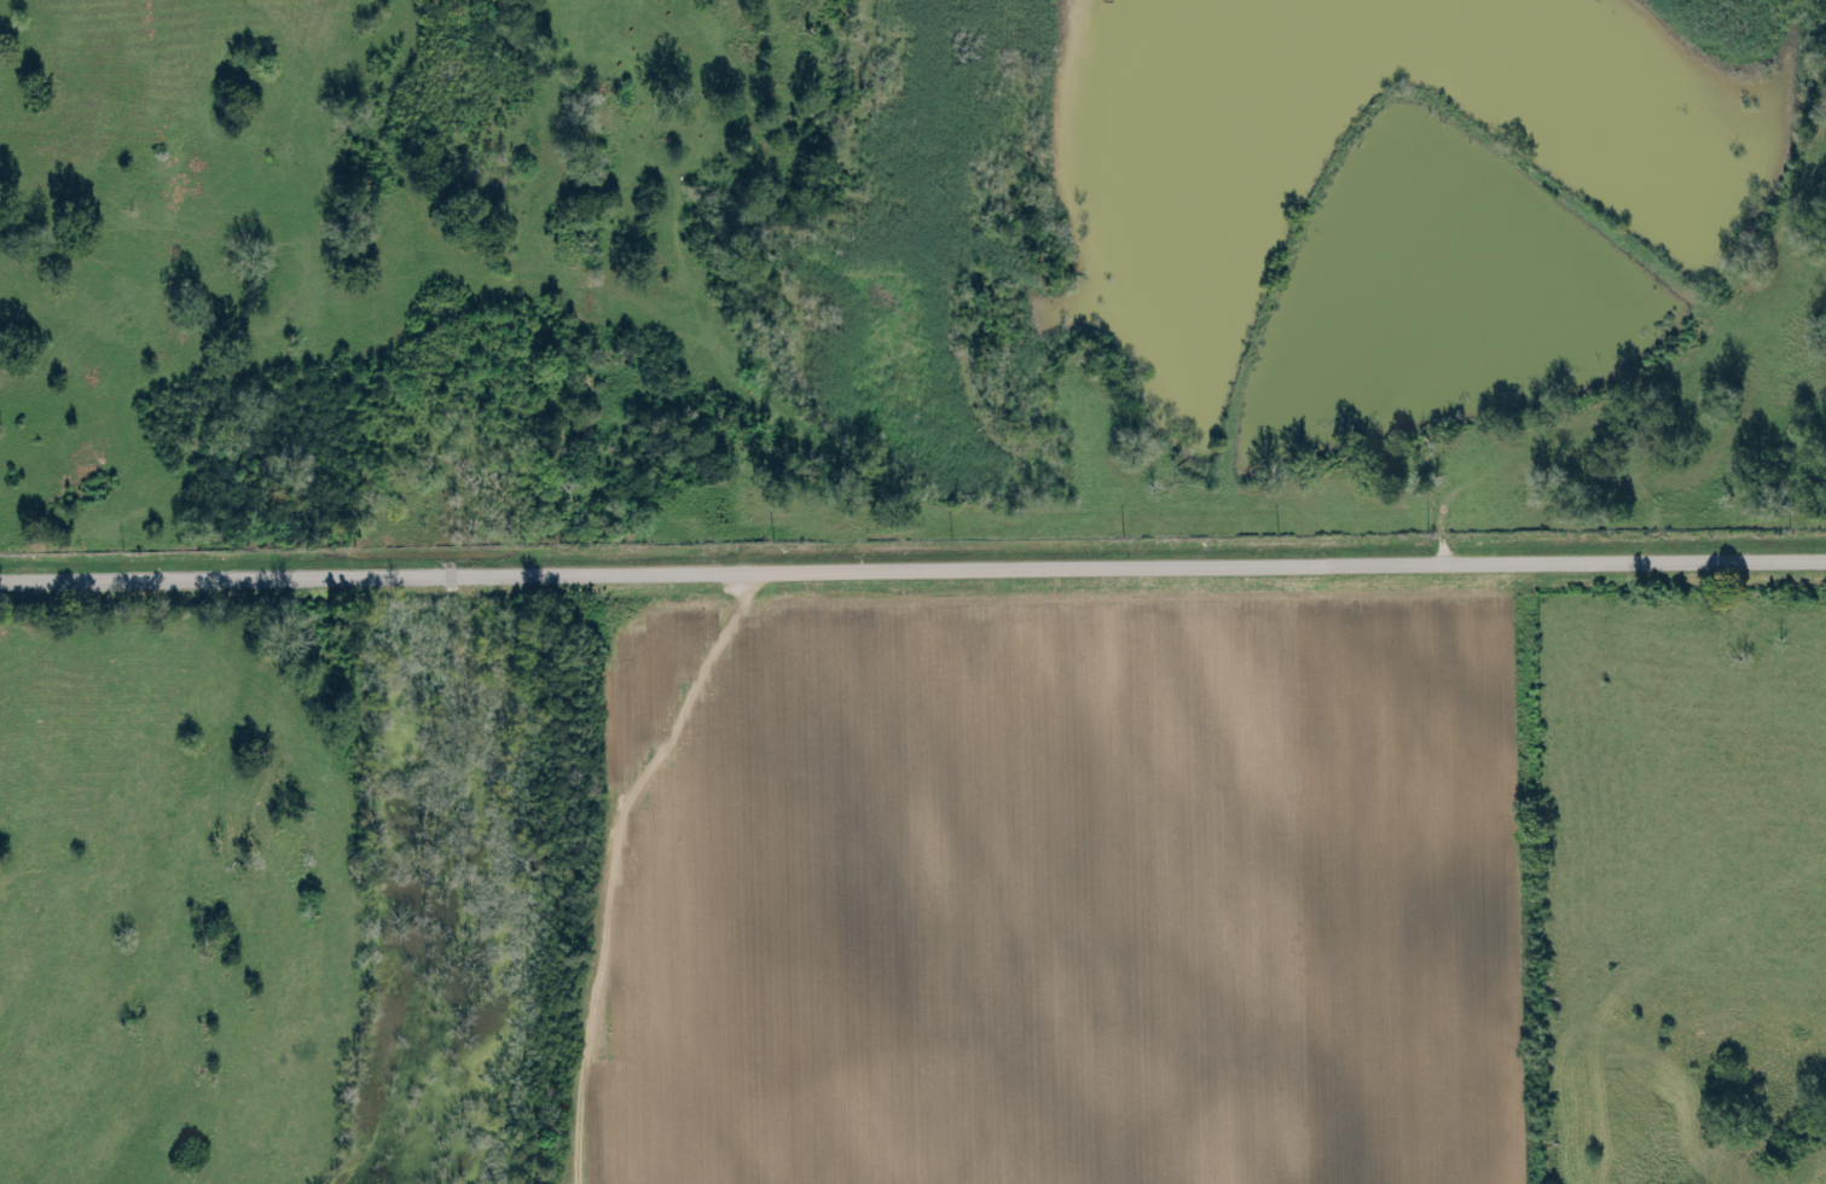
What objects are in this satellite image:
road: (912, 570)
road: (593, 880)

